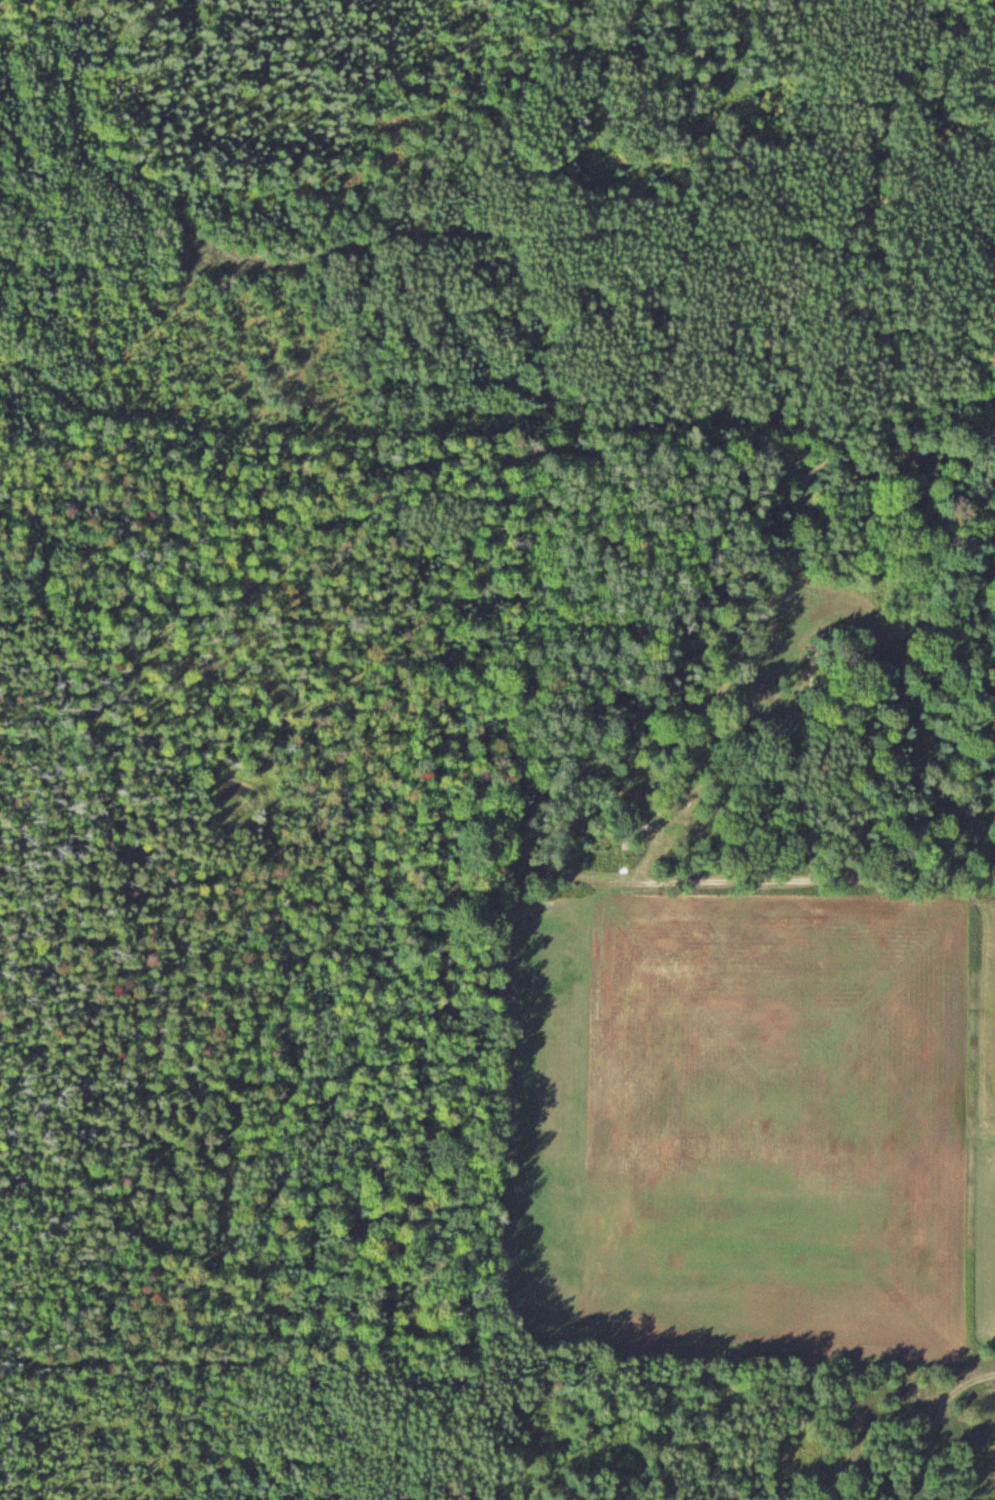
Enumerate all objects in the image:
road: (985, 1336)
road: (964, 1414)

